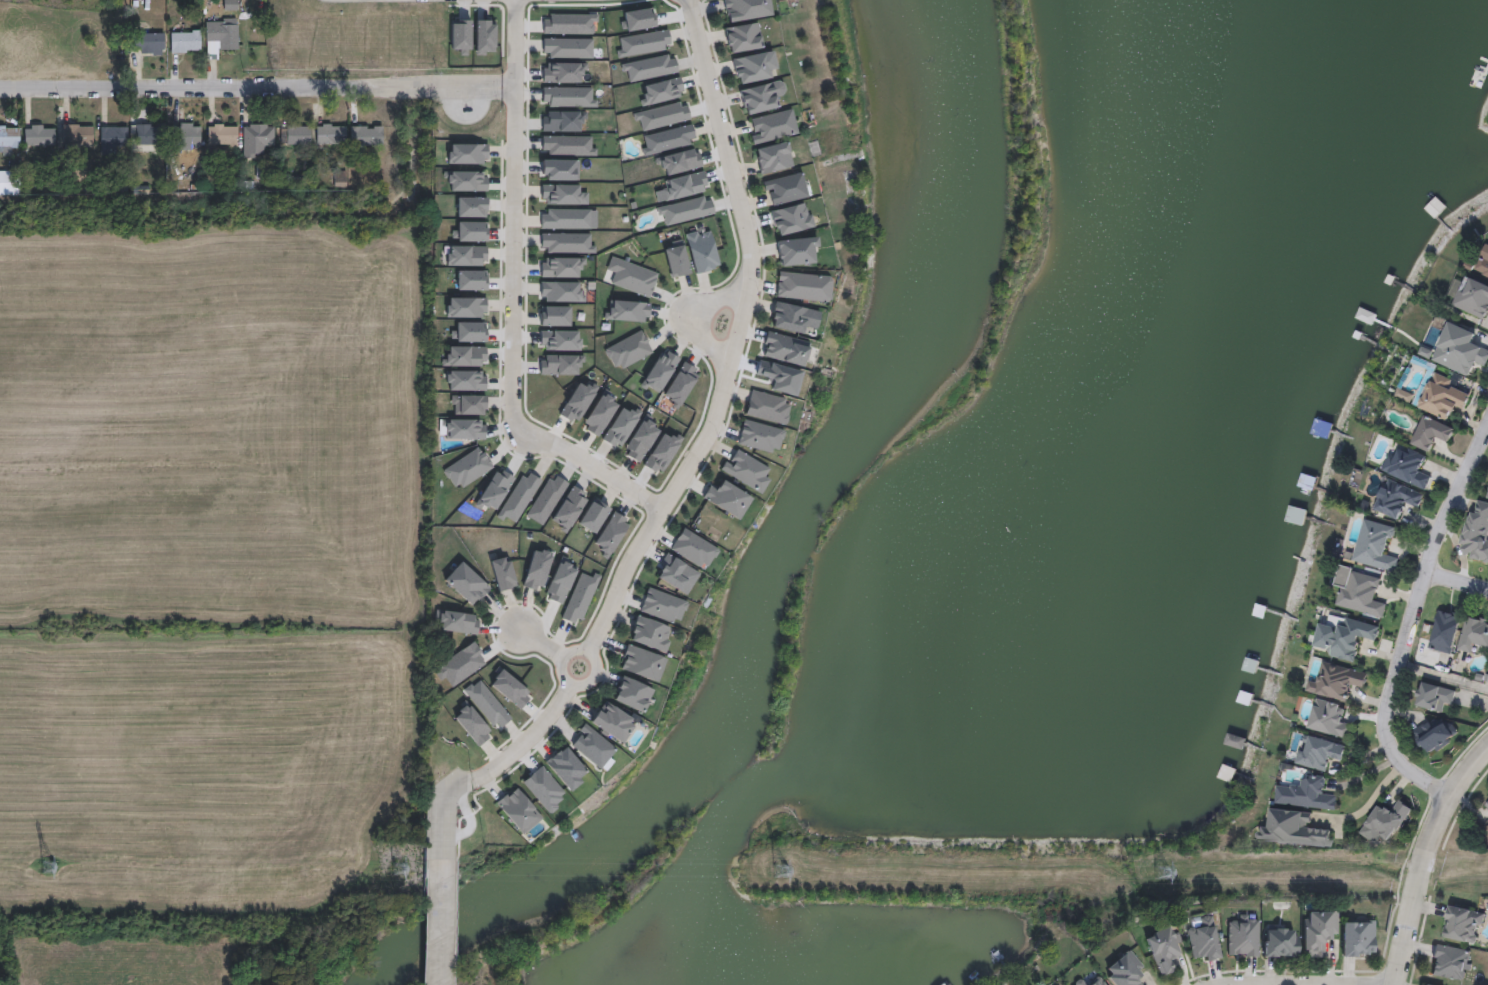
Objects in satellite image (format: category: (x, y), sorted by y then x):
building: (747, 9)
building: (221, 32)
building: (744, 38)
building: (183, 41)
building: (148, 42)
building: (644, 43)
building: (566, 48)
building: (650, 67)
building: (752, 69)
road: (232, 92)
road: (489, 92)
building: (569, 96)
building: (759, 99)
road: (464, 102)
building: (660, 116)
building: (563, 120)
building: (773, 127)
building: (295, 134)
building: (37, 135)
building: (145, 135)
building: (184, 135)
building: (220, 135)
building: (329, 135)
building: (364, 136)
building: (8, 137)
building: (73, 137)
building: (110, 137)
building: (254, 139)
building: (774, 158)
building: (557, 170)
building: (264, 172)
building: (339, 179)
building: (467, 181)
building: (685, 185)
building: (786, 190)
building: (1433, 207)
building: (685, 211)
building: (793, 219)
building: (472, 231)
building: (565, 244)
building: (702, 250)
building: (798, 253)
building: (676, 258)
building: (633, 279)
building: (800, 287)
building: (562, 291)
road: (515, 295)
building: (1472, 297)
road: (689, 313)
building: (789, 319)
building: (470, 331)
road: (736, 335)
building: (1459, 349)
building: (629, 350)
building: (775, 351)
building: (465, 356)
building: (1442, 396)
building: (466, 404)
building: (766, 407)
building: (464, 428)
building: (1431, 433)
building: (758, 435)
building: (638, 439)
building: (1407, 467)
building: (468, 468)
building: (746, 469)
building: (1307, 482)
building: (495, 490)
building: (726, 495)
building: (1397, 499)
building: (1295, 515)
building: (1477, 532)
building: (1375, 546)
building: (692, 548)
building: (498, 573)
building: (677, 573)
road: (1458, 579)
building: (562, 580)
building: (466, 581)
building: (1360, 592)
building: (663, 605)
road: (1413, 618)
building: (455, 622)
building: (1445, 631)
building: (651, 633)
building: (1473, 634)
building: (1344, 638)
road: (552, 639)
road: (588, 645)
building: (643, 663)
building: (1249, 665)
building: (1337, 681)
building: (632, 693)
building: (1433, 696)
building: (1329, 718)
building: (612, 720)
building: (1433, 734)
building: (594, 746)
building: (1319, 753)
building: (566, 767)
road: (486, 770)
building: (545, 789)
building: (1307, 794)
road: (1367, 804)
building: (518, 809)
building: (1386, 821)
building: (1295, 829)
road: (1420, 855)
power tower: (45, 867)
power tower: (399, 868)
power tower: (779, 870)
power tower: (1162, 871)
building: (1317, 930)
road: (440, 932)
building: (1242, 935)
building: (1358, 936)
building: (1202, 938)
river: (408, 940)
building: (1280, 942)
building: (1162, 948)
building: (1125, 970)
building: (1082, 980)
road: (1279, 983)

